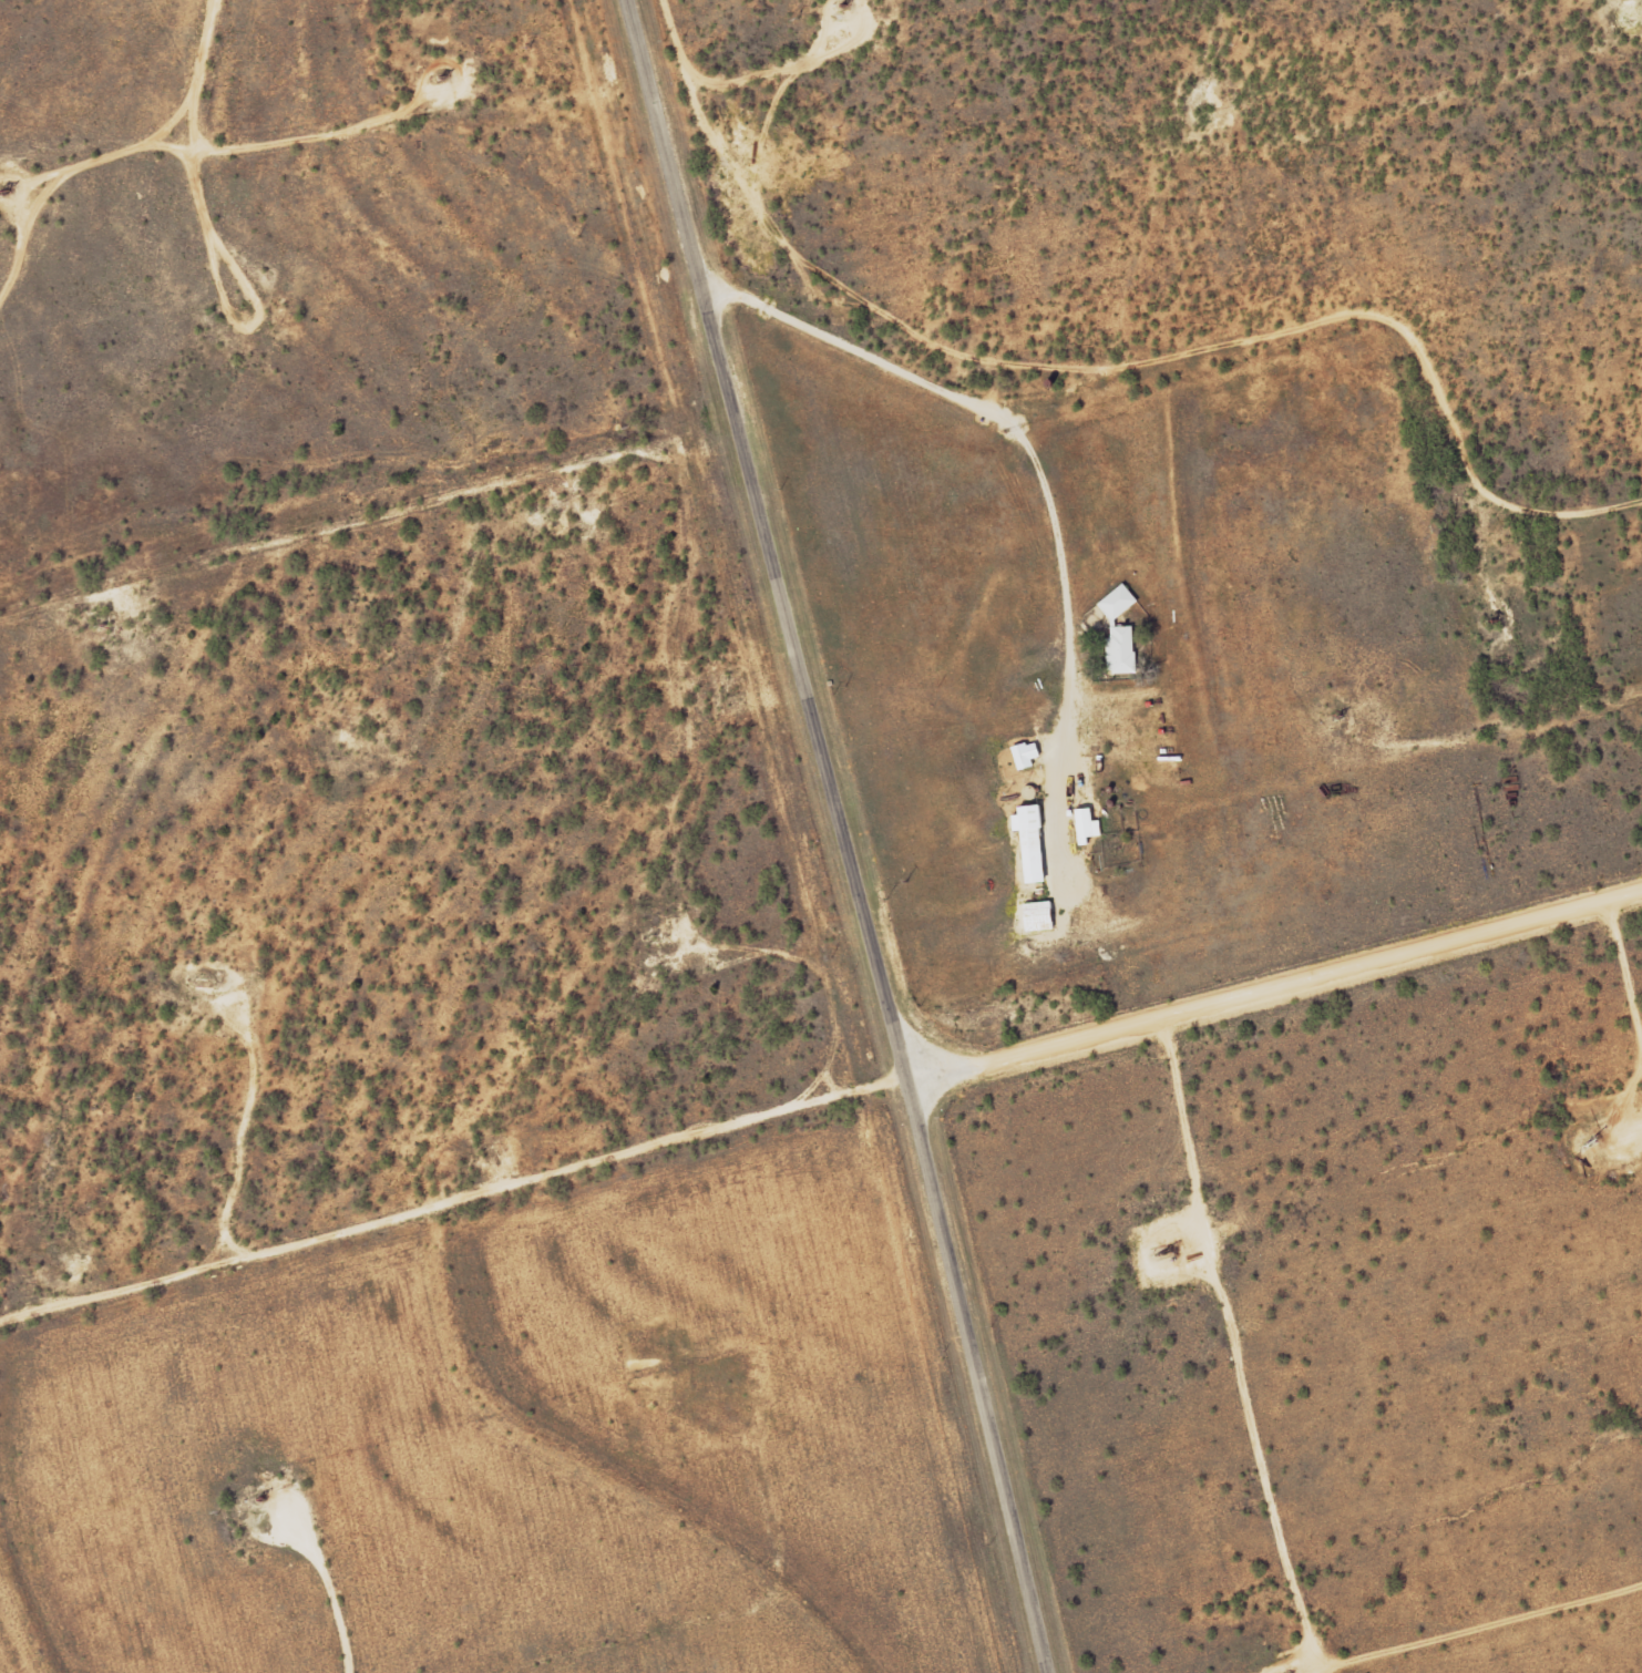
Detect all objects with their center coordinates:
road: (971, 403)
building: (1118, 603)
building: (1121, 650)
building: (1026, 757)
building: (1087, 827)
road: (858, 834)
building: (1032, 843)
building: (1038, 916)
road: (1626, 976)
road: (1282, 988)
road: (1271, 1503)

